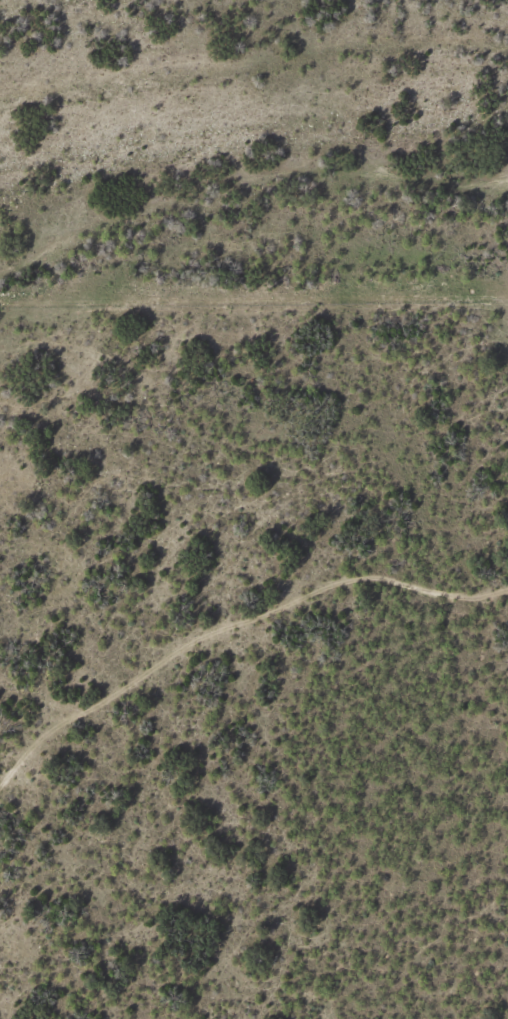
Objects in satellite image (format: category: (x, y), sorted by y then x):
road: (238, 602)

